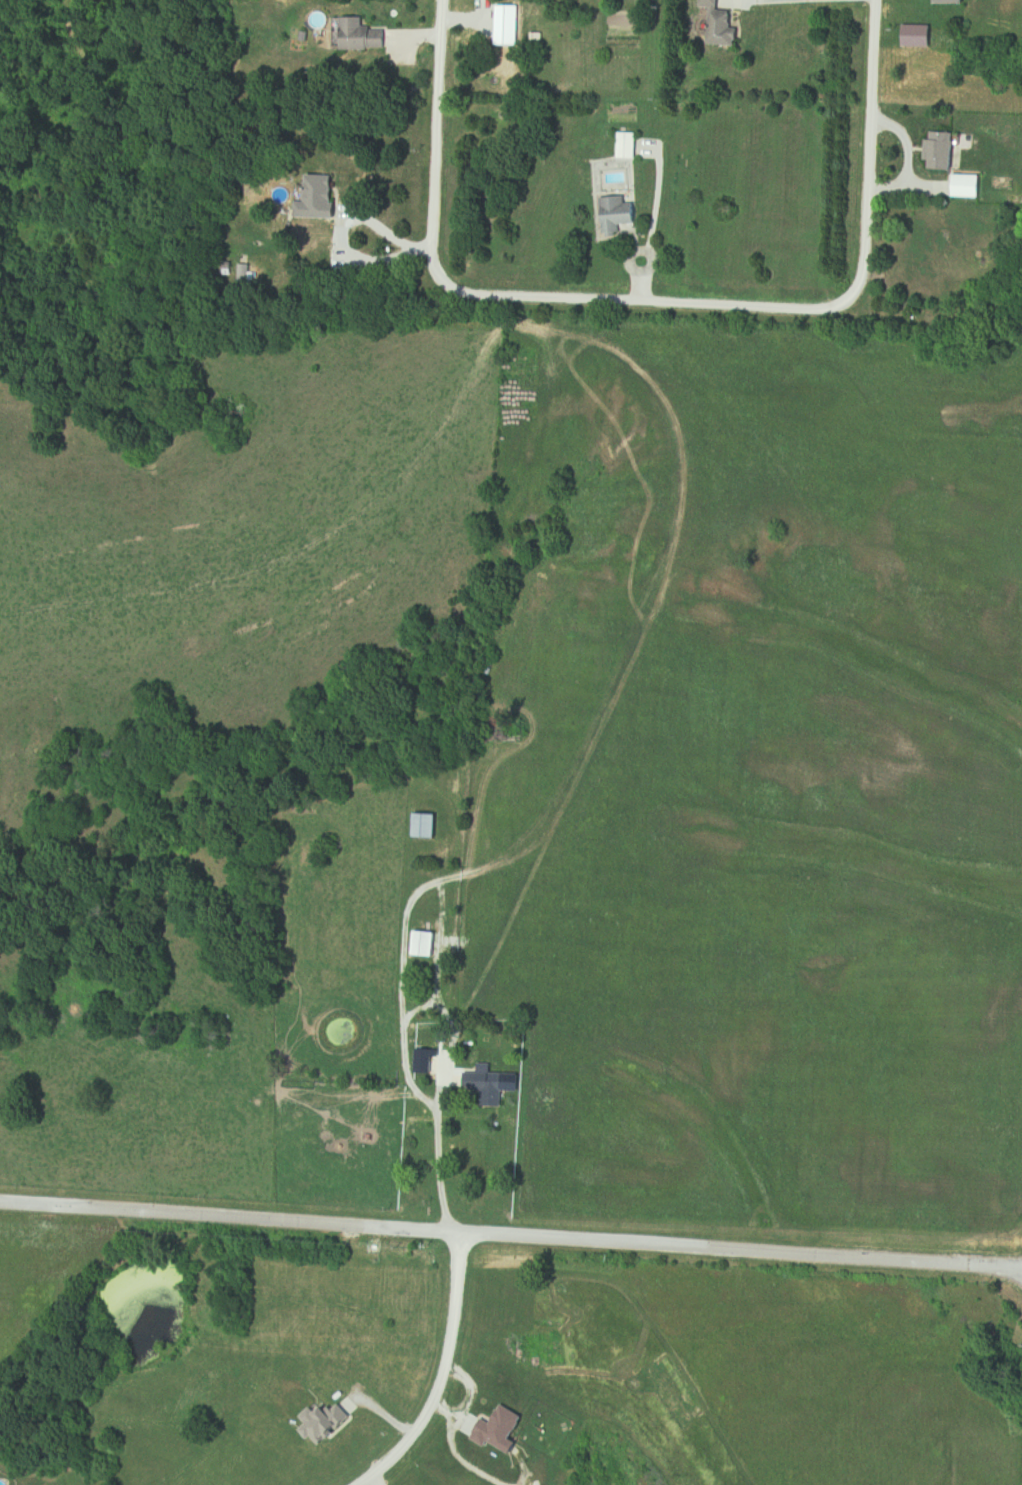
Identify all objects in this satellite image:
building: (952, 1)
building: (359, 35)
road: (869, 101)
road: (437, 137)
building: (629, 145)
building: (943, 151)
building: (619, 218)
building: (928, 252)
road: (689, 303)
building: (423, 825)
building: (423, 944)
road: (408, 1047)
building: (487, 1087)
road: (482, 1233)
road: (993, 1265)
building: (405, 1350)
road: (437, 1376)

